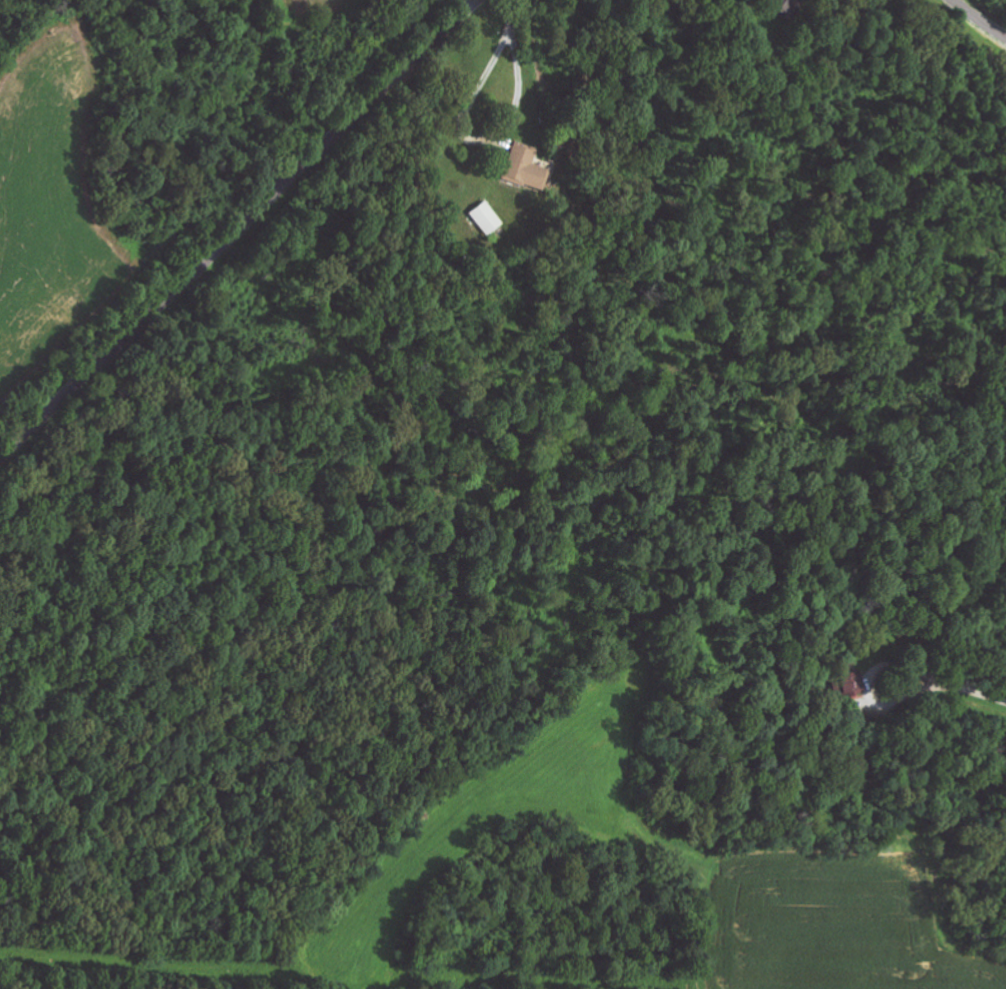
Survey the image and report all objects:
building: (784, 6)
road: (977, 21)
building: (524, 167)
road: (237, 228)

